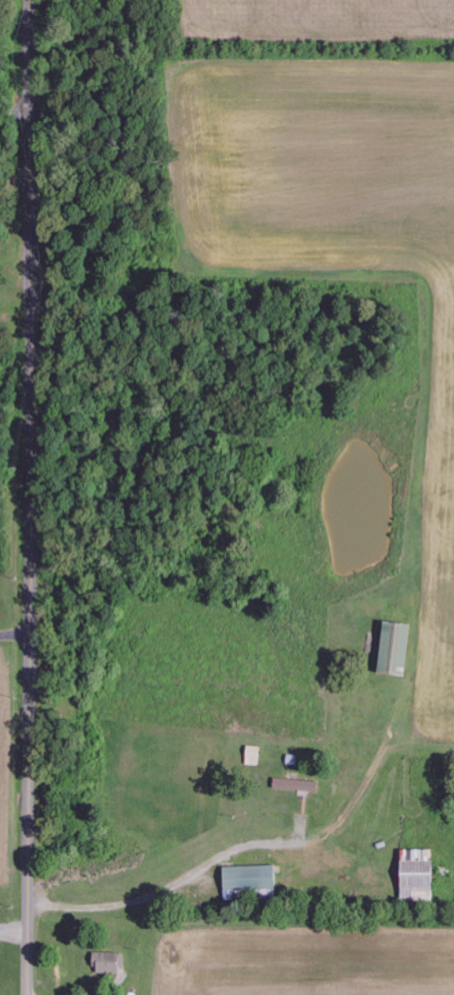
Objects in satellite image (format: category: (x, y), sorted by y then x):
road: (29, 497)
building: (397, 648)
building: (255, 756)
building: (296, 785)
building: (420, 875)
building: (251, 878)
building: (108, 963)

